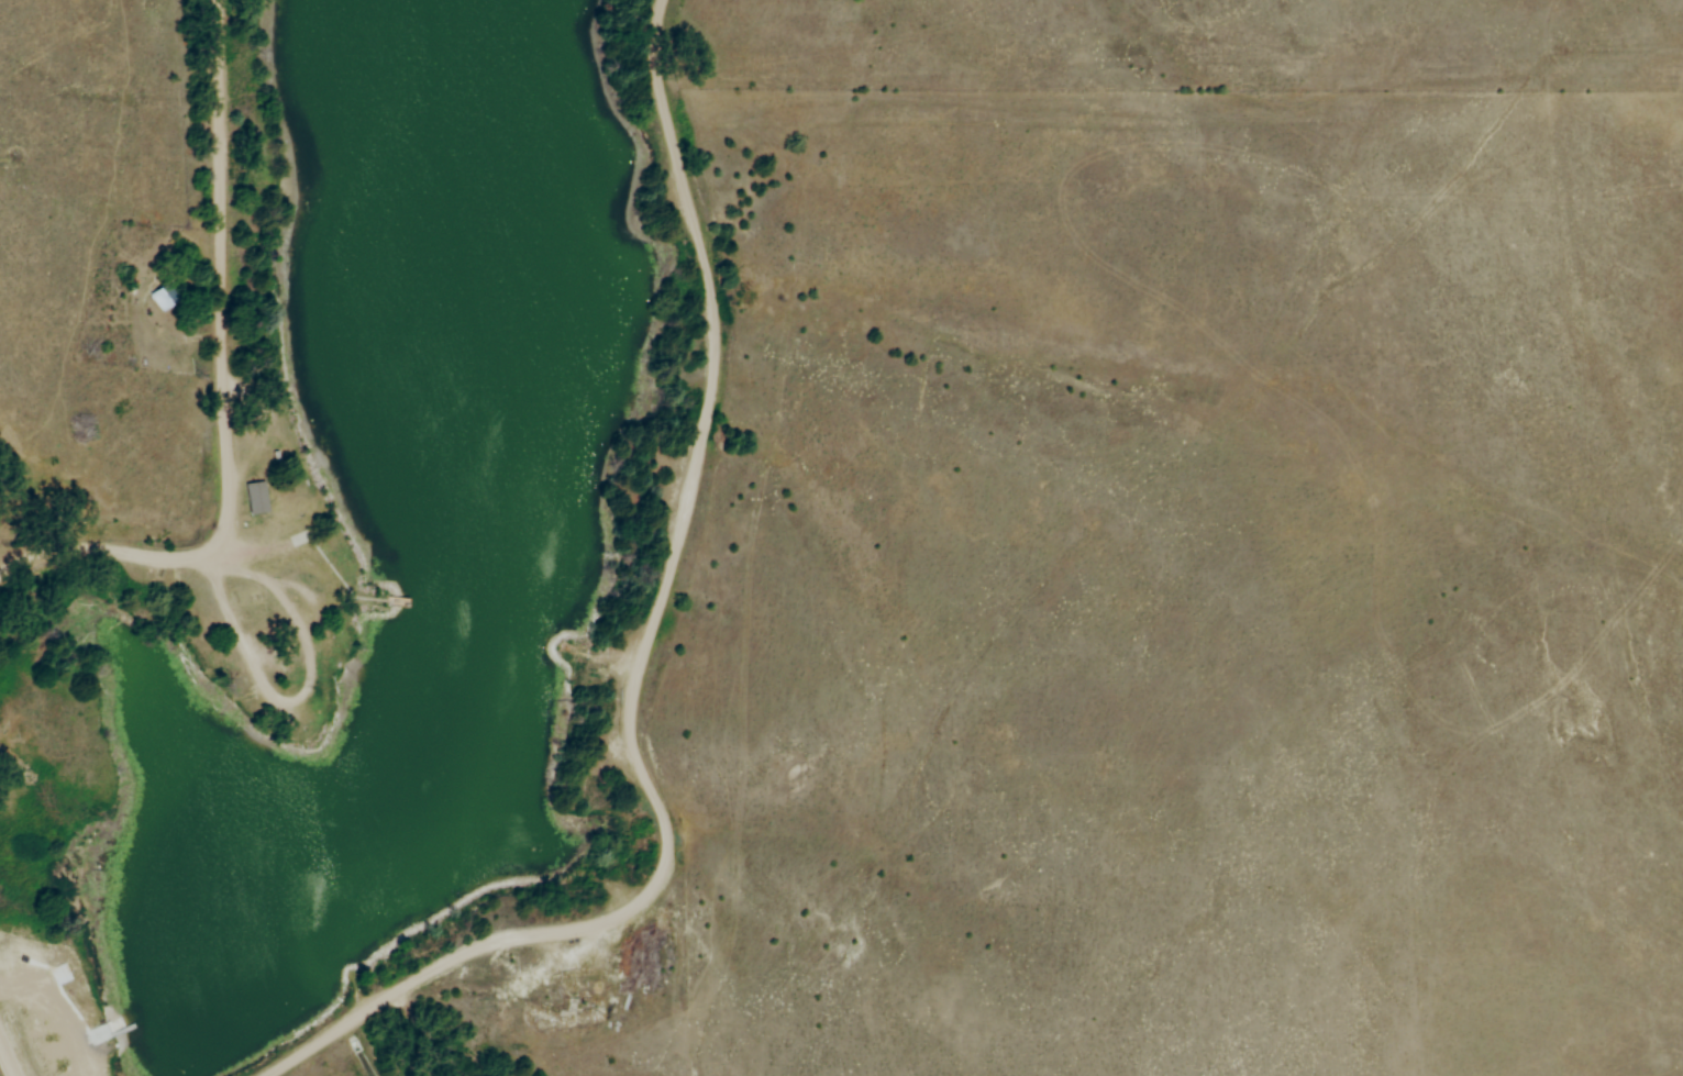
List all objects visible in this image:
building: (164, 298)
road: (229, 388)
park: (350, 532)
road: (640, 663)
road: (277, 695)
road: (9, 1056)

